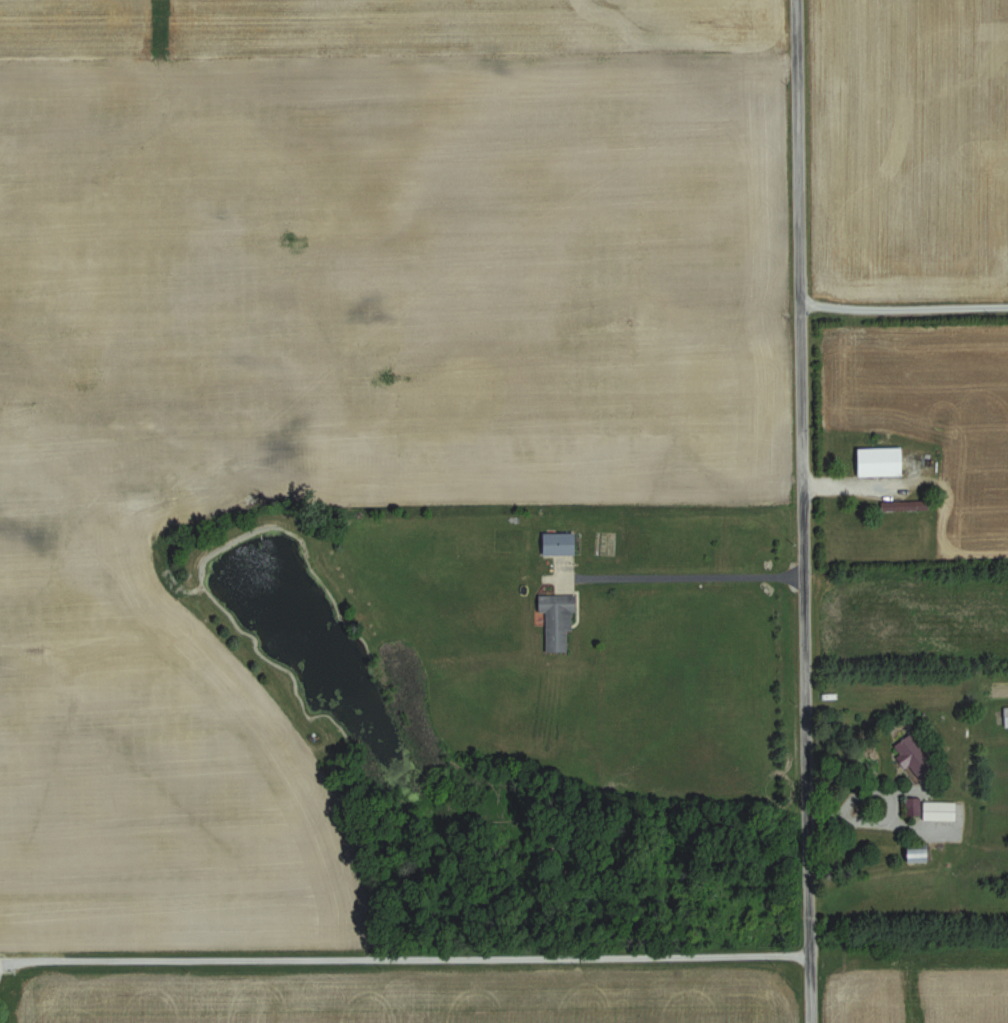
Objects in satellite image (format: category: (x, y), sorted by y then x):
road: (903, 305)
building: (881, 461)
road: (852, 481)
road: (801, 511)
building: (560, 544)
road: (682, 580)
building: (559, 620)
building: (1006, 716)
building: (915, 758)
building: (941, 811)
road: (877, 821)
building: (920, 854)
road: (403, 959)

